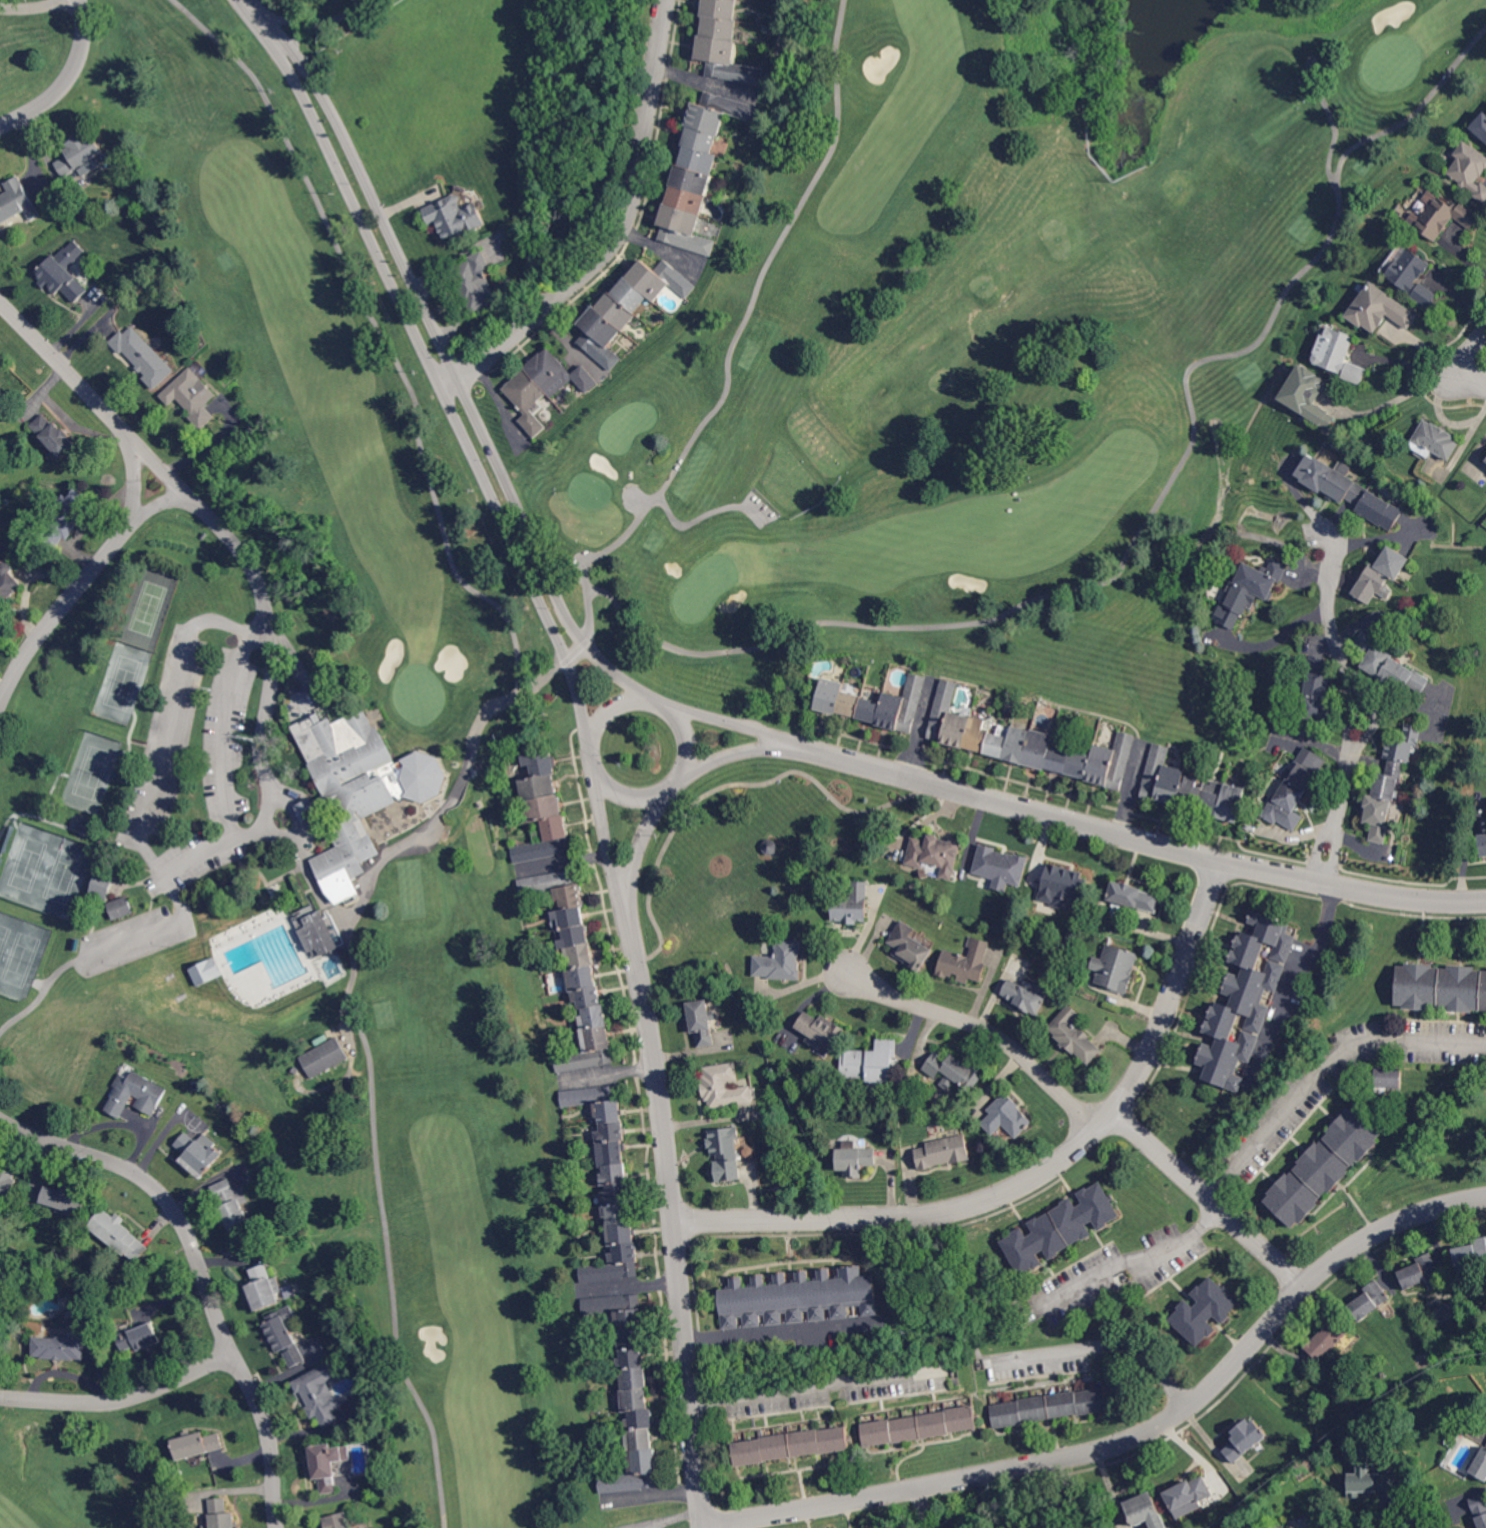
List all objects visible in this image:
road: (35, 7)
building: (722, 8)
road: (330, 19)
building: (721, 28)
road: (286, 50)
road: (1312, 57)
building: (727, 61)
road: (68, 80)
building: (719, 112)
building: (1480, 126)
building: (701, 140)
road: (1365, 141)
building: (83, 155)
building: (699, 161)
building: (1470, 169)
building: (692, 180)
road: (369, 190)
road: (353, 195)
building: (686, 200)
building: (18, 202)
building: (1441, 216)
building: (456, 218)
building: (684, 230)
road: (619, 231)
road: (770, 256)
building: (1412, 276)
building: (61, 277)
building: (660, 280)
building: (477, 283)
building: (630, 294)
building: (1379, 310)
building: (617, 311)
road: (381, 332)
building: (601, 337)
building: (143, 355)
building: (1339, 355)
road: (1459, 358)
road: (1404, 359)
building: (559, 374)
road: (1395, 393)
building: (192, 396)
building: (1308, 396)
building: (528, 400)
building: (53, 435)
building: (1436, 440)
building: (1485, 458)
road: (486, 479)
road: (129, 484)
building: (1348, 490)
road: (172, 502)
building: (68, 518)
road: (605, 551)
road: (539, 553)
building: (1382, 574)
building: (1262, 578)
building: (9, 584)
road: (1075, 589)
building: (1238, 605)
road: (554, 632)
road: (272, 641)
road: (1278, 641)
building: (1374, 655)
park: (648, 677)
building: (1404, 677)
building: (1318, 678)
road: (1349, 692)
building: (831, 695)
road: (647, 698)
road: (629, 700)
road: (664, 703)
building: (851, 704)
building: (903, 705)
building: (871, 710)
building: (944, 710)
building: (1313, 714)
road: (600, 721)
road: (732, 724)
road: (587, 729)
building: (958, 729)
road: (220, 735)
building: (978, 735)
building: (999, 742)
building: (1018, 743)
building: (1040, 748)
building: (1401, 750)
road: (736, 754)
building: (1059, 755)
road: (593, 757)
building: (1080, 761)
building: (541, 762)
building: (1112, 762)
building: (1305, 771)
road: (902, 775)
building: (1163, 778)
road: (157, 781)
building: (538, 786)
building: (1385, 786)
road: (672, 788)
building: (359, 789)
building: (1190, 791)
building: (1210, 797)
building: (1285, 800)
building: (1231, 802)
building: (544, 807)
building: (1377, 816)
building: (84, 827)
road: (293, 835)
road: (609, 838)
building: (1483, 838)
building: (547, 841)
road: (641, 845)
building: (771, 848)
building: (936, 853)
road: (1247, 865)
building: (1001, 868)
building: (1064, 884)
building: (103, 886)
building: (556, 888)
building: (1133, 896)
building: (853, 904)
building: (121, 909)
building: (569, 919)
road: (163, 926)
building: (325, 933)
building: (573, 937)
building: (910, 946)
building: (581, 956)
building: (781, 961)
building: (966, 962)
building: (213, 964)
building: (1116, 967)
road: (1289, 973)
building: (582, 979)
building: (1441, 987)
building: (1027, 994)
building: (588, 998)
building: (1245, 1000)
building: (594, 1018)
building: (703, 1022)
building: (821, 1031)
building: (1075, 1036)
building: (588, 1052)
building: (325, 1057)
building: (871, 1065)
road: (1321, 1067)
building: (296, 1070)
building: (954, 1073)
road: (657, 1074)
road: (369, 1076)
building: (1388, 1081)
building: (725, 1088)
building: (137, 1094)
building: (597, 1102)
road: (1087, 1113)
building: (1008, 1116)
building: (612, 1133)
building: (726, 1152)
building: (944, 1152)
building: (200, 1153)
building: (611, 1154)
building: (856, 1160)
building: (0, 1166)
building: (1323, 1166)
road: (1039, 1174)
building: (614, 1175)
building: (7, 1184)
building: (617, 1195)
building: (68, 1197)
building: (233, 1207)
building: (617, 1214)
building: (1061, 1227)
building: (120, 1234)
building: (621, 1234)
road: (1373, 1235)
building: (1471, 1253)
road: (1138, 1260)
building: (614, 1266)
road: (203, 1272)
building: (1422, 1274)
building: (264, 1288)
building: (799, 1297)
building: (1370, 1299)
building: (617, 1309)
building: (1205, 1310)
road: (780, 1332)
building: (286, 1335)
building: (141, 1337)
building: (1327, 1338)
building: (632, 1339)
road: (1104, 1344)
building: (61, 1347)
building: (632, 1360)
road: (689, 1378)
building: (635, 1379)
road: (816, 1384)
building: (320, 1393)
road: (122, 1399)
building: (635, 1400)
building: (1050, 1406)
building: (640, 1420)
building: (920, 1425)
building: (760, 1433)
building: (1245, 1438)
building: (640, 1440)
building: (198, 1444)
building: (792, 1444)
building: (1479, 1463)
building: (328, 1465)
road: (1016, 1468)
building: (634, 1475)
building: (1371, 1482)
building: (1190, 1491)
road: (1006, 1498)
building: (1141, 1509)
building: (1480, 1509)
building: (222, 1514)
road: (1387, 1515)
road: (704, 1520)
building: (337, 1521)
road: (705, 1526)

